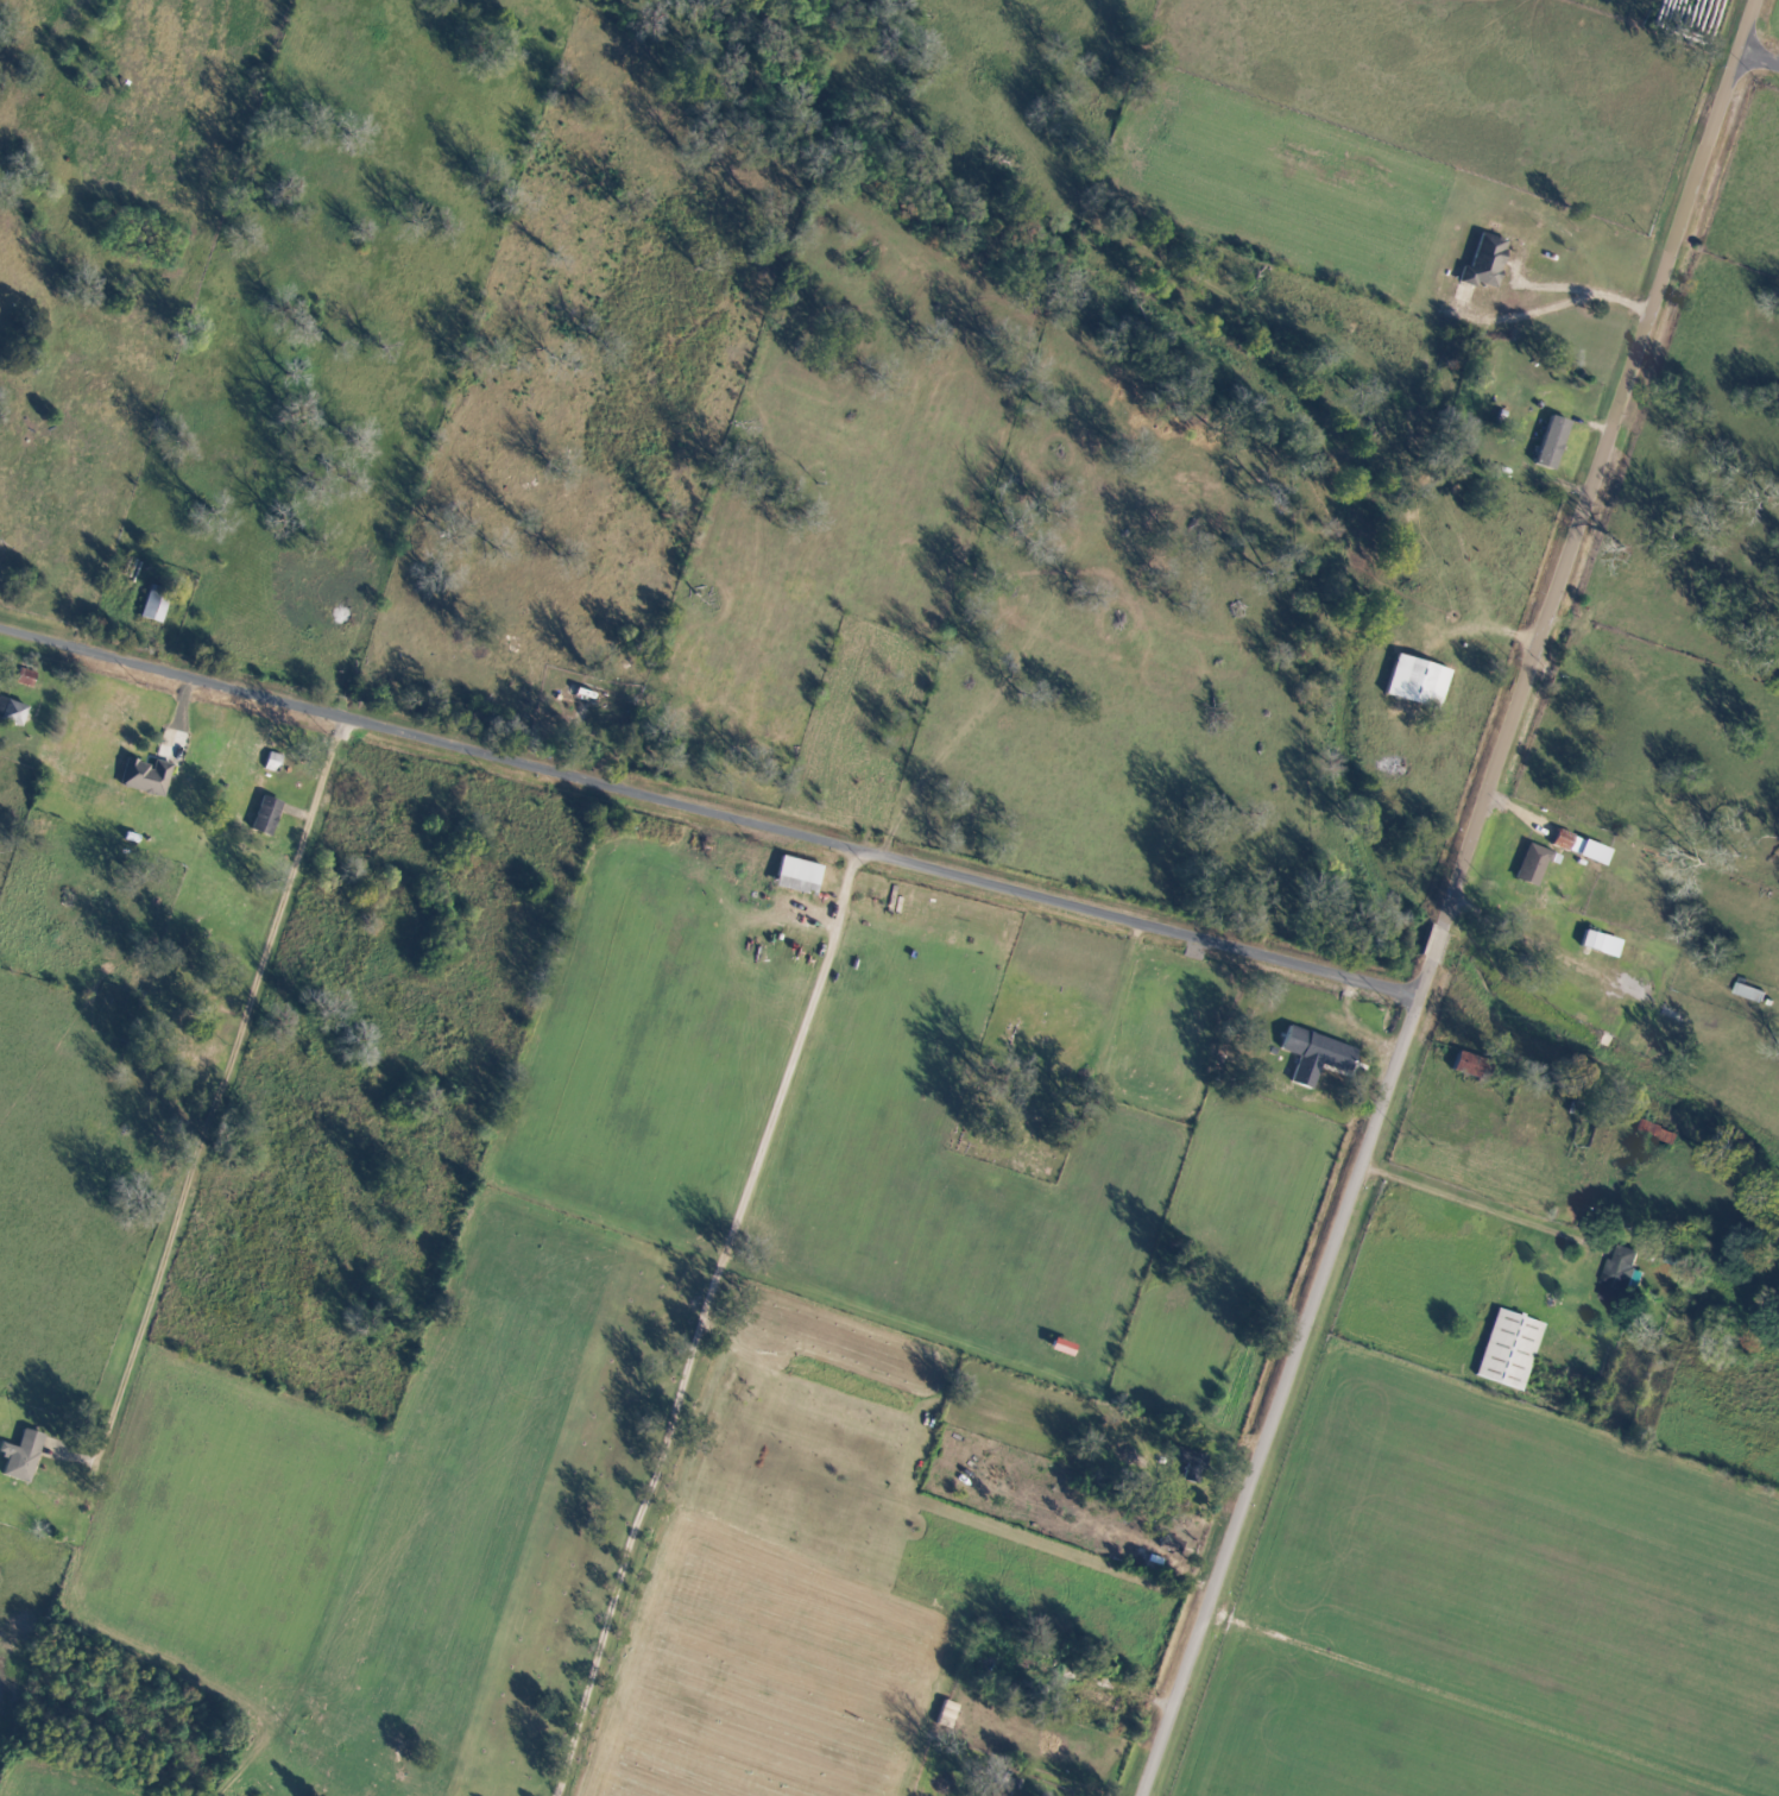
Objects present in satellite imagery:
road: (1759, 45)
building: (1485, 260)
building: (1538, 435)
building: (1556, 442)
road: (1594, 461)
building: (153, 599)
building: (24, 675)
building: (1417, 680)
building: (12, 710)
building: (170, 739)
building: (273, 761)
building: (145, 774)
road: (1514, 799)
road: (706, 808)
building: (266, 812)
building: (1585, 846)
building: (1533, 859)
building: (797, 874)
building: (1540, 926)
road: (1532, 937)
road: (1431, 941)
building: (1623, 944)
building: (1753, 991)
building: (1314, 1053)
building: (1660, 1130)
road: (1481, 1203)
road: (175, 1230)
building: (1619, 1272)
road: (702, 1319)
building: (1067, 1347)
building: (1508, 1348)
road: (1287, 1378)
road: (65, 1451)
building: (20, 1457)
road: (1207, 1485)
building: (1175, 1544)
road: (1138, 1693)
building: (1093, 1696)
building: (951, 1714)

